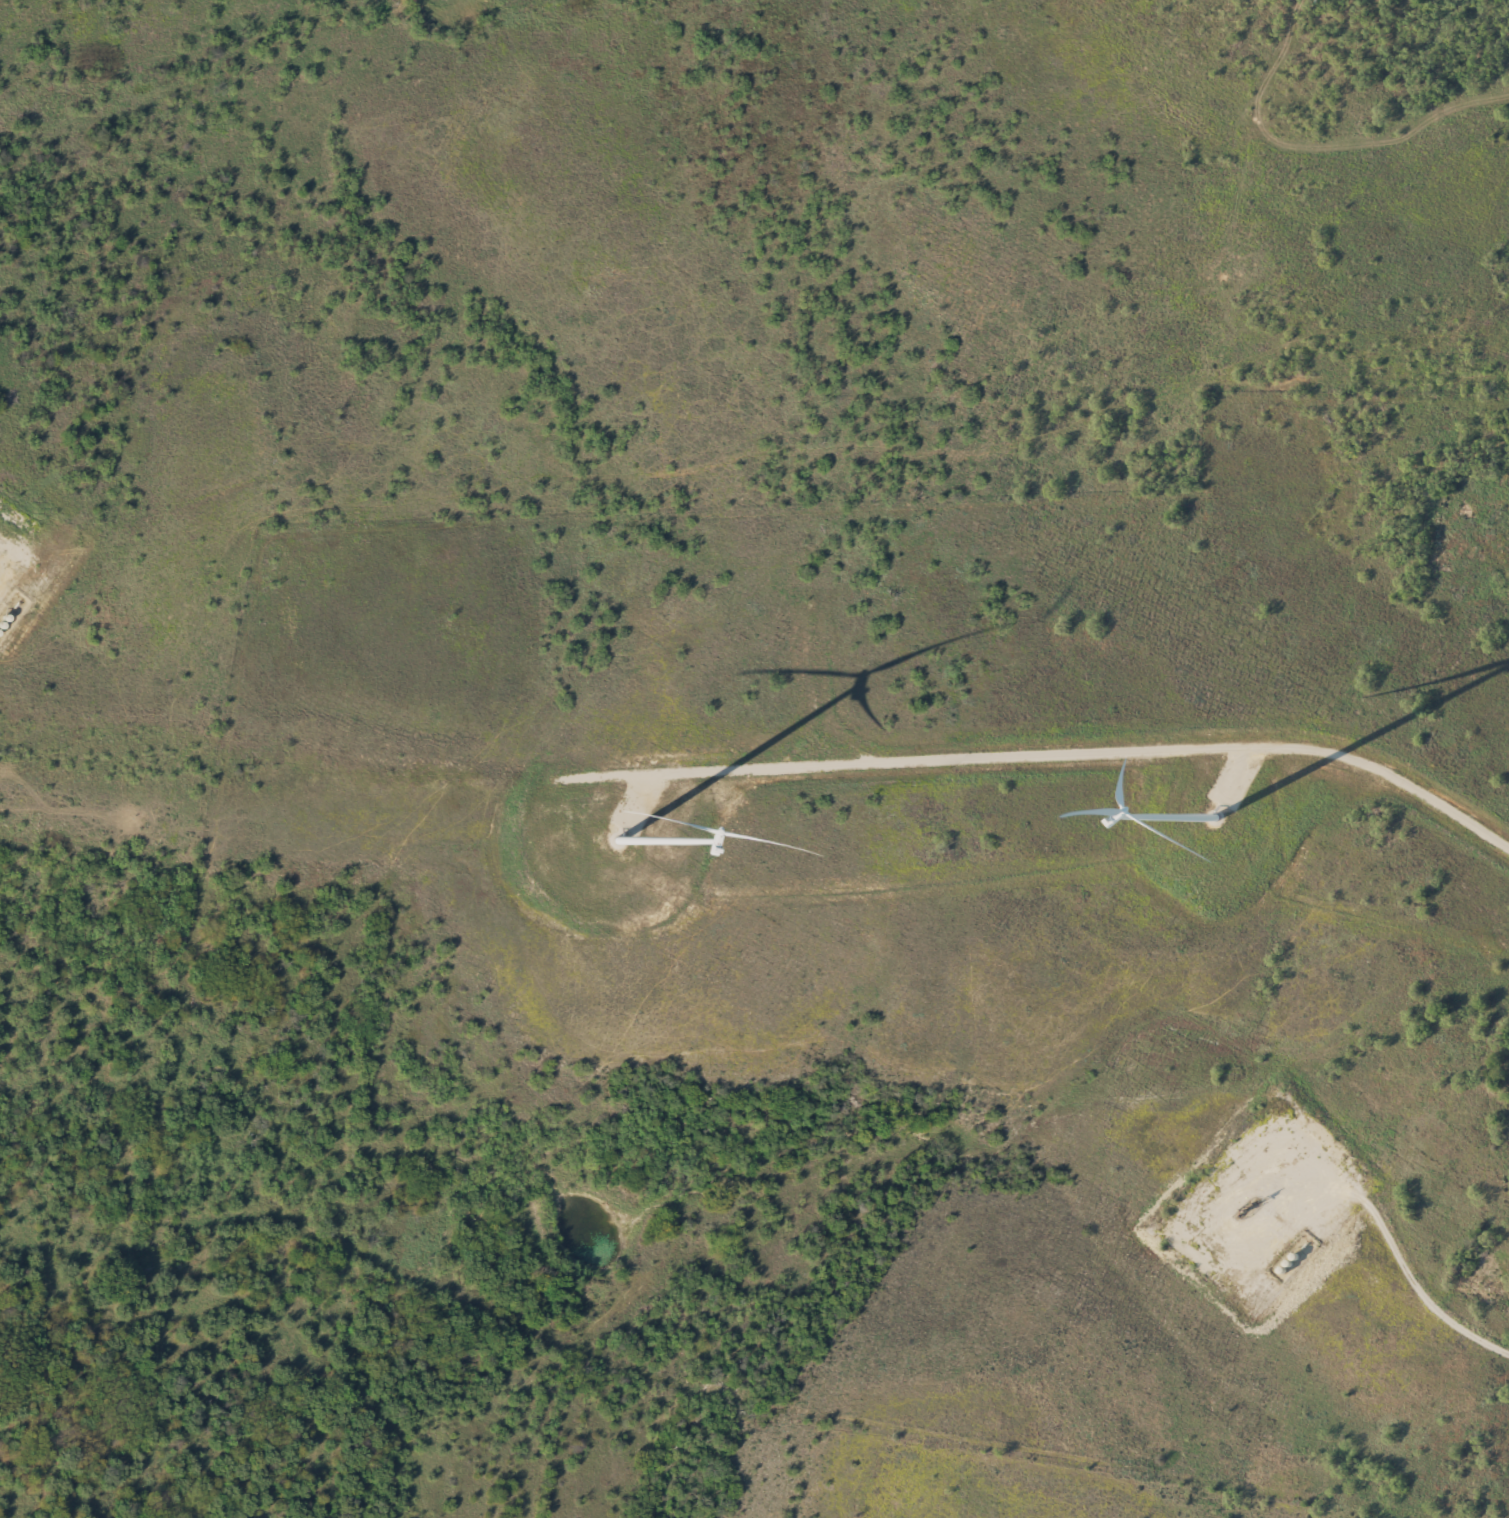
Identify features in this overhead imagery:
road: (1048, 758)
wind turbine: (1218, 812)
wind turbine: (625, 841)

